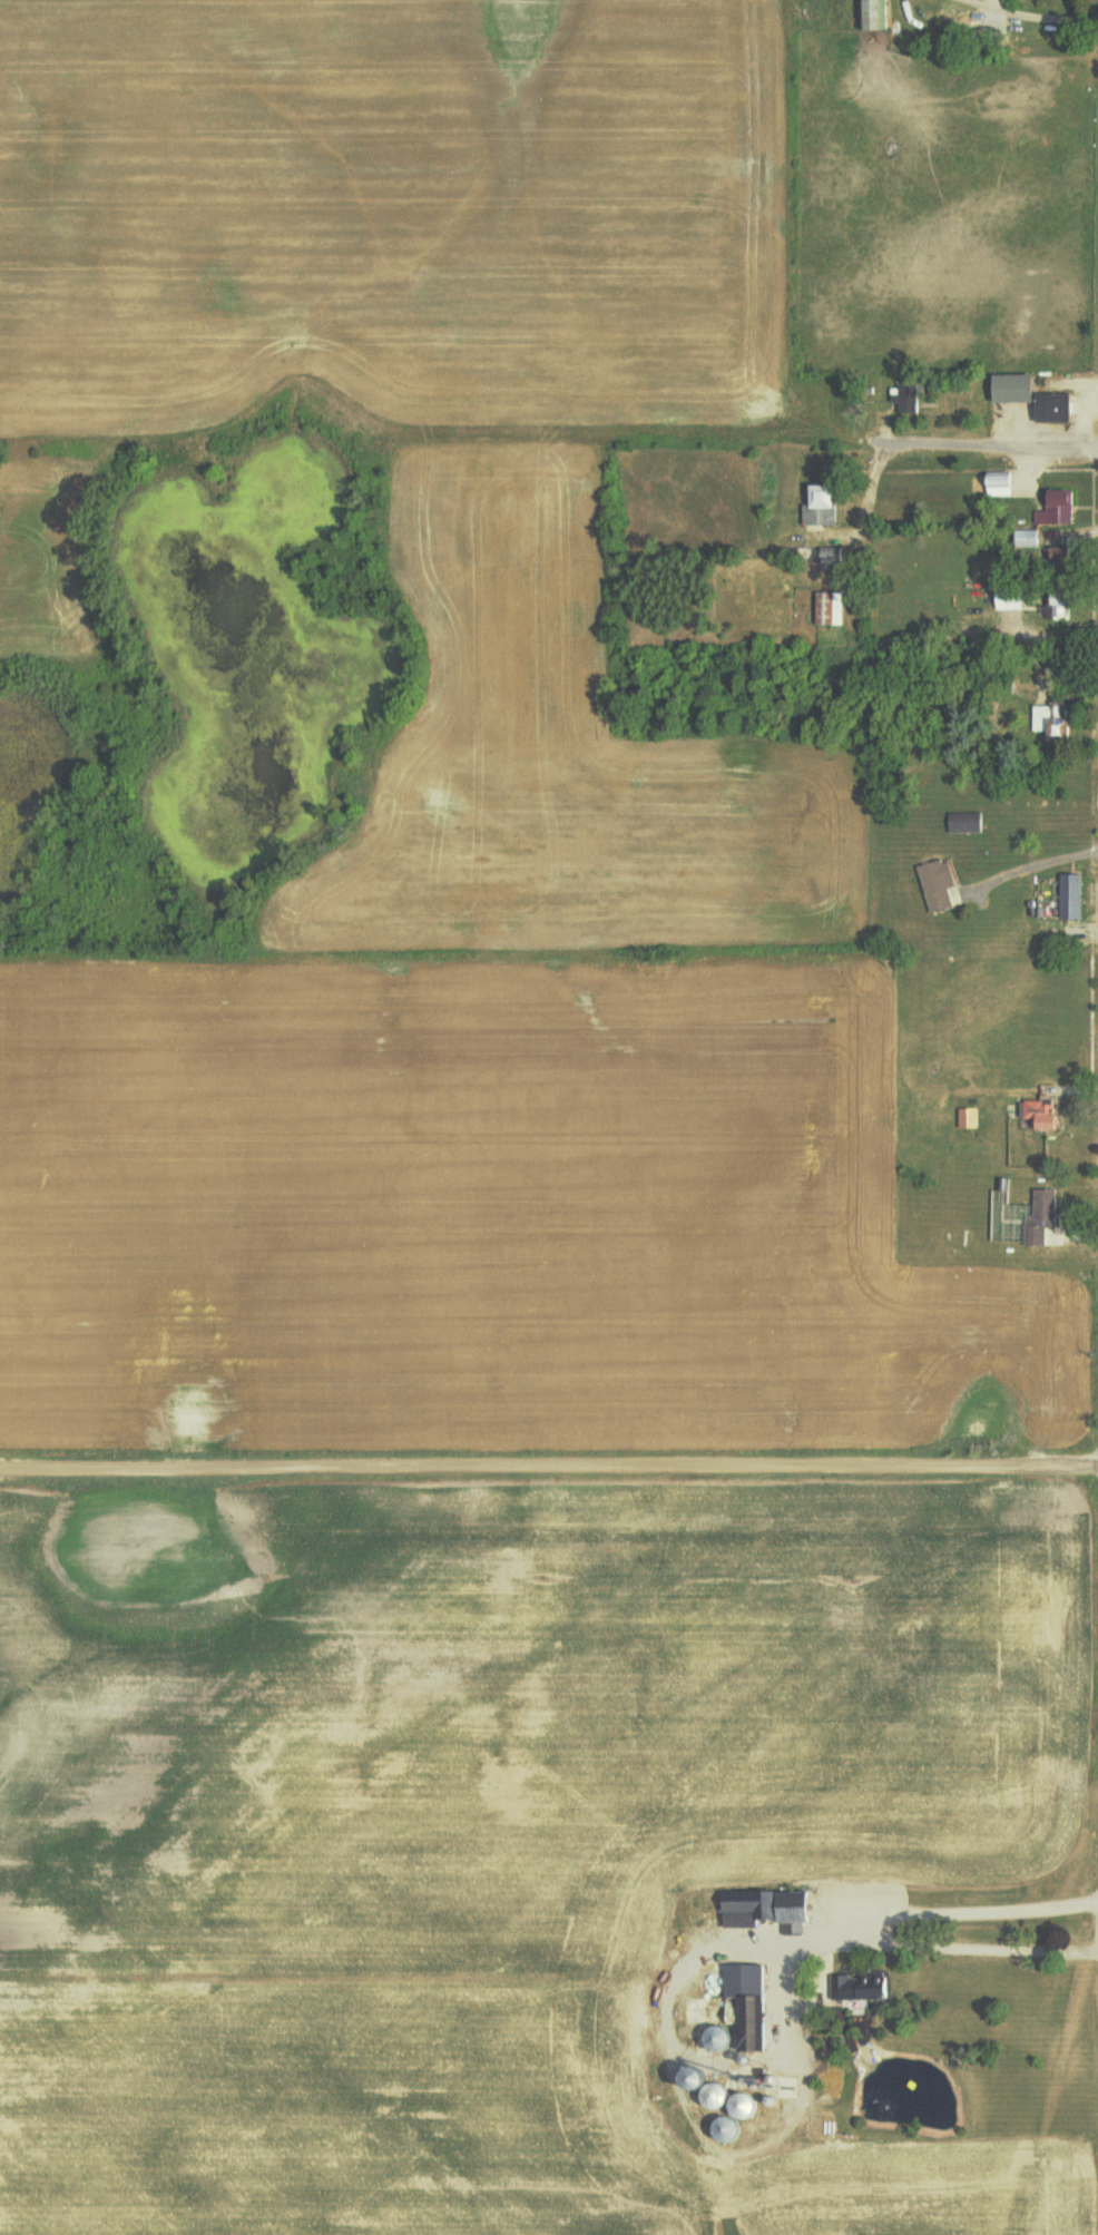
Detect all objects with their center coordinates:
building: (872, 14)
crop: (398, 209)
building: (908, 396)
building: (1039, 398)
road: (997, 451)
building: (1002, 484)
building: (825, 508)
building: (1059, 509)
building: (1028, 538)
building: (835, 556)
building: (1012, 598)
building: (832, 609)
building: (1045, 718)
building: (967, 822)
building: (939, 884)
building: (1071, 896)
building: (1040, 1116)
building: (970, 1118)
building: (1028, 1216)
road: (549, 1470)
crop: (484, 1574)
building: (769, 1909)
building: (857, 1990)
building: (749, 2003)

